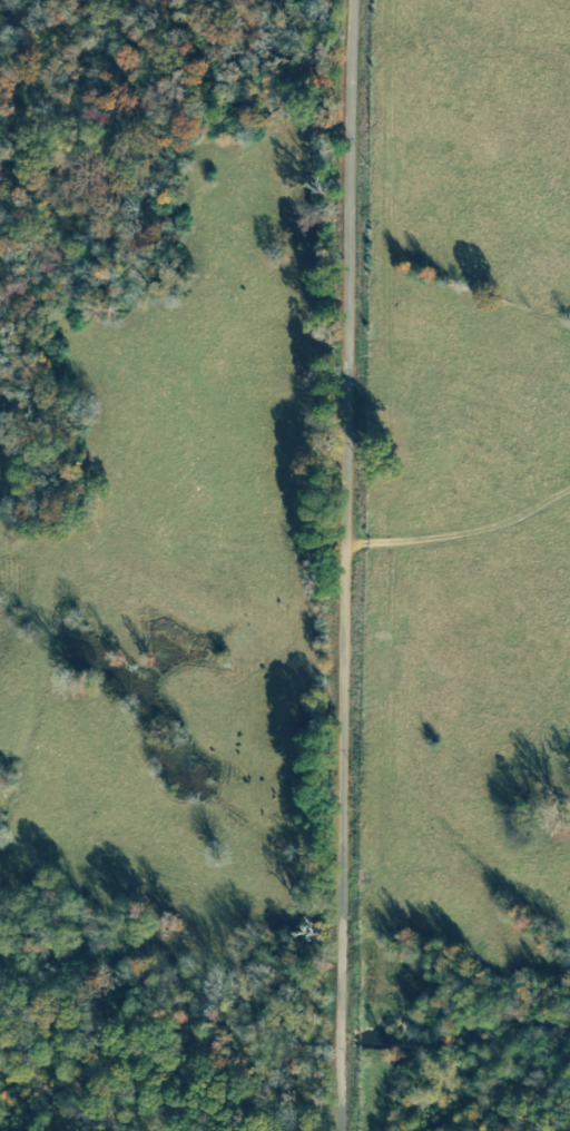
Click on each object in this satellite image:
road: (62, 542)
road: (346, 565)

